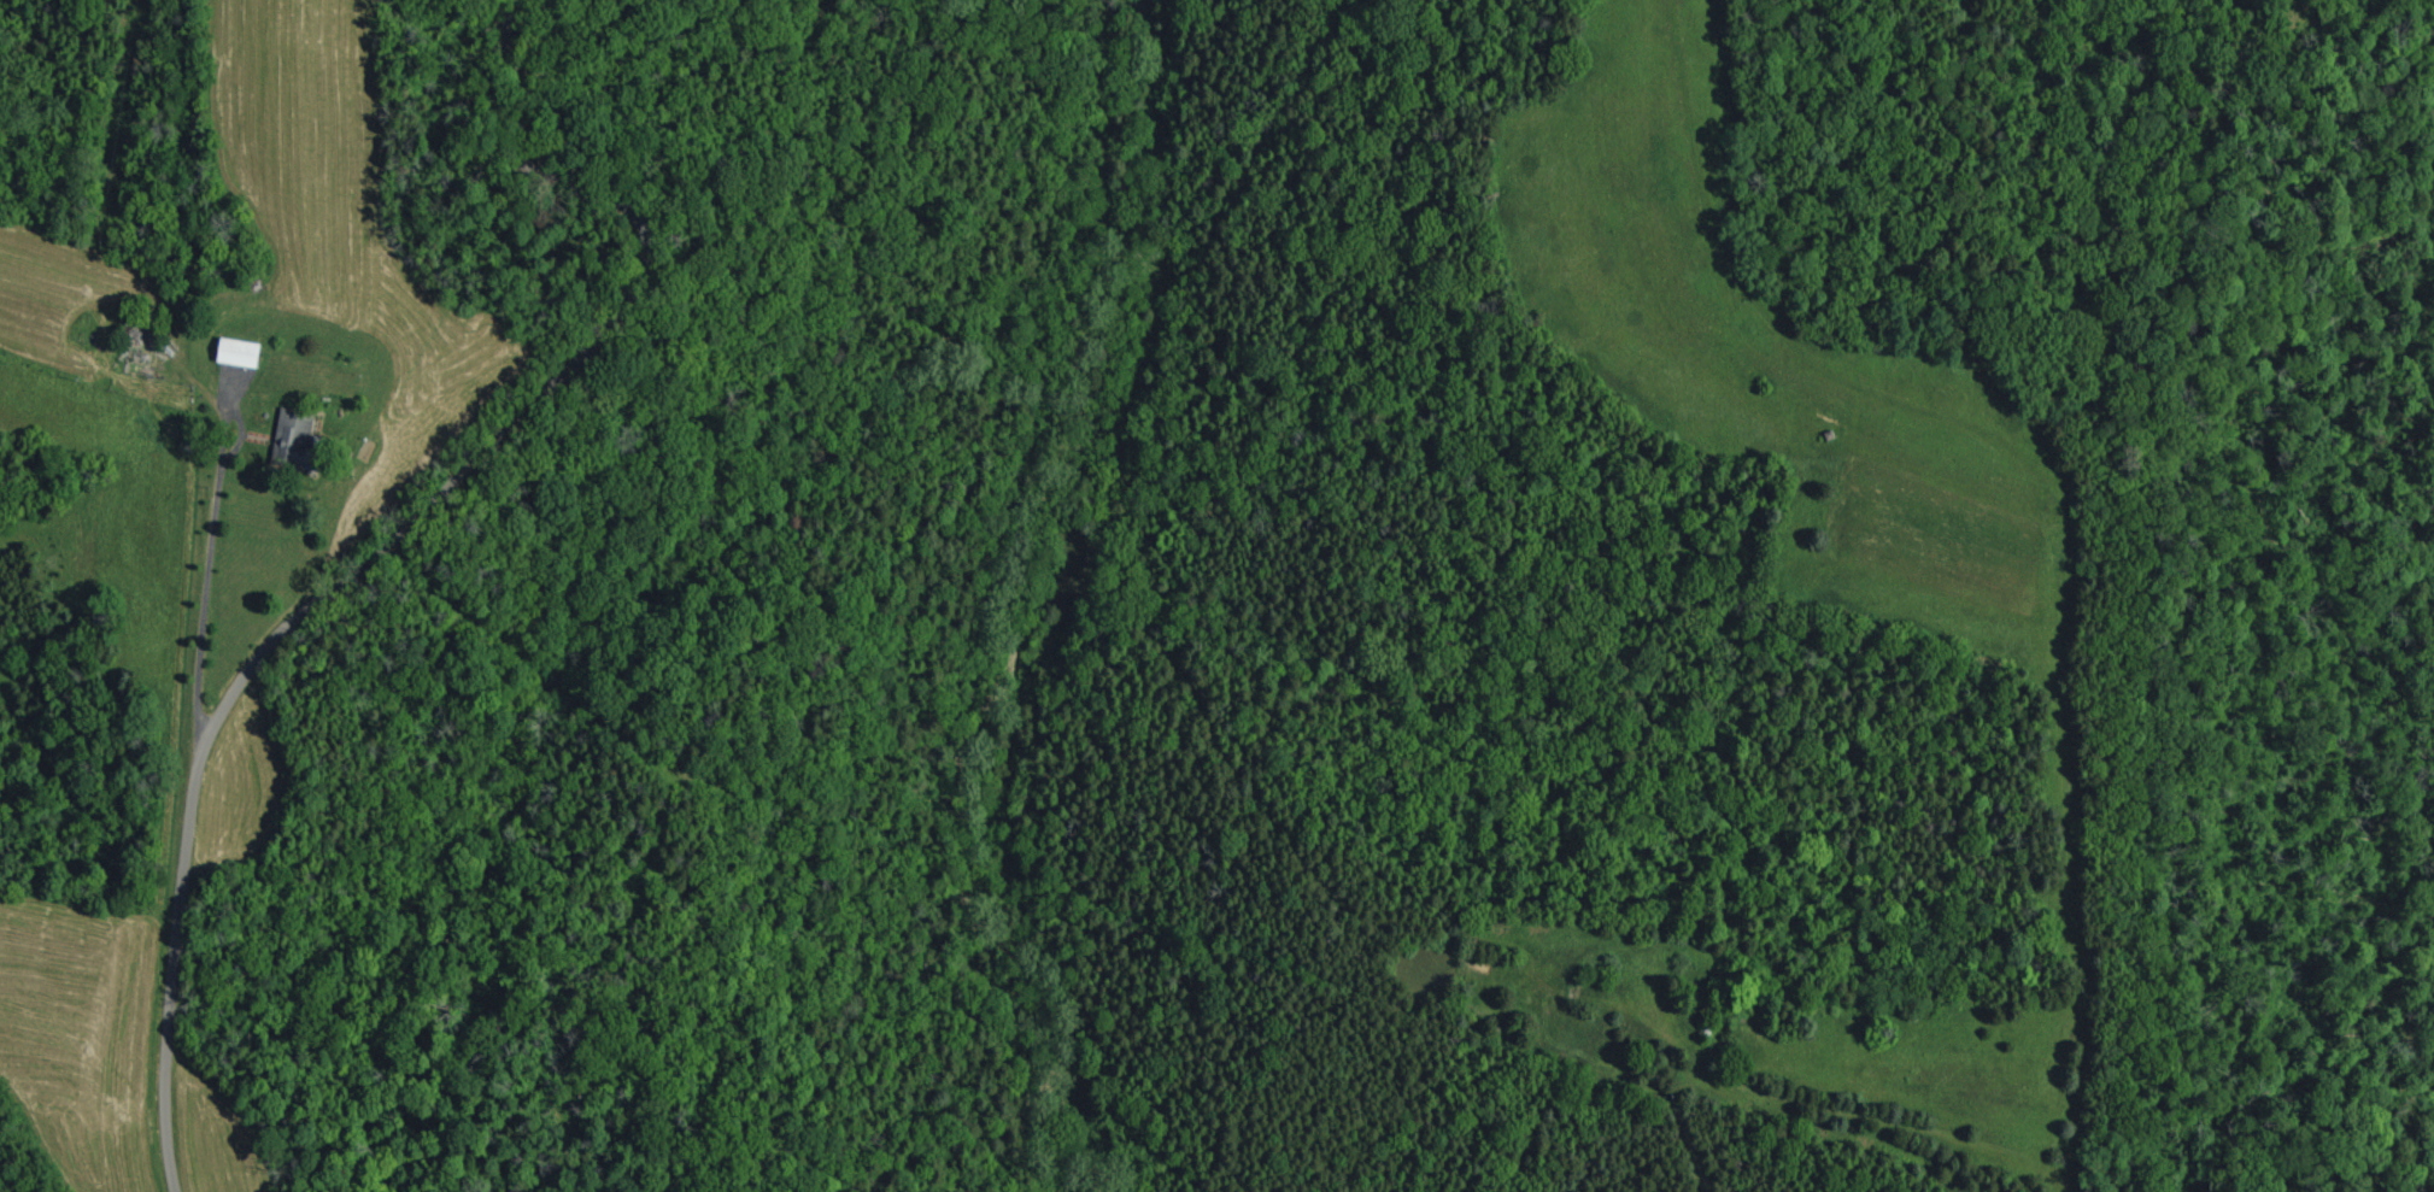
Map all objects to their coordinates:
crop: (1775, 354)
road: (212, 542)
road: (344, 560)
crop: (1805, 1045)

